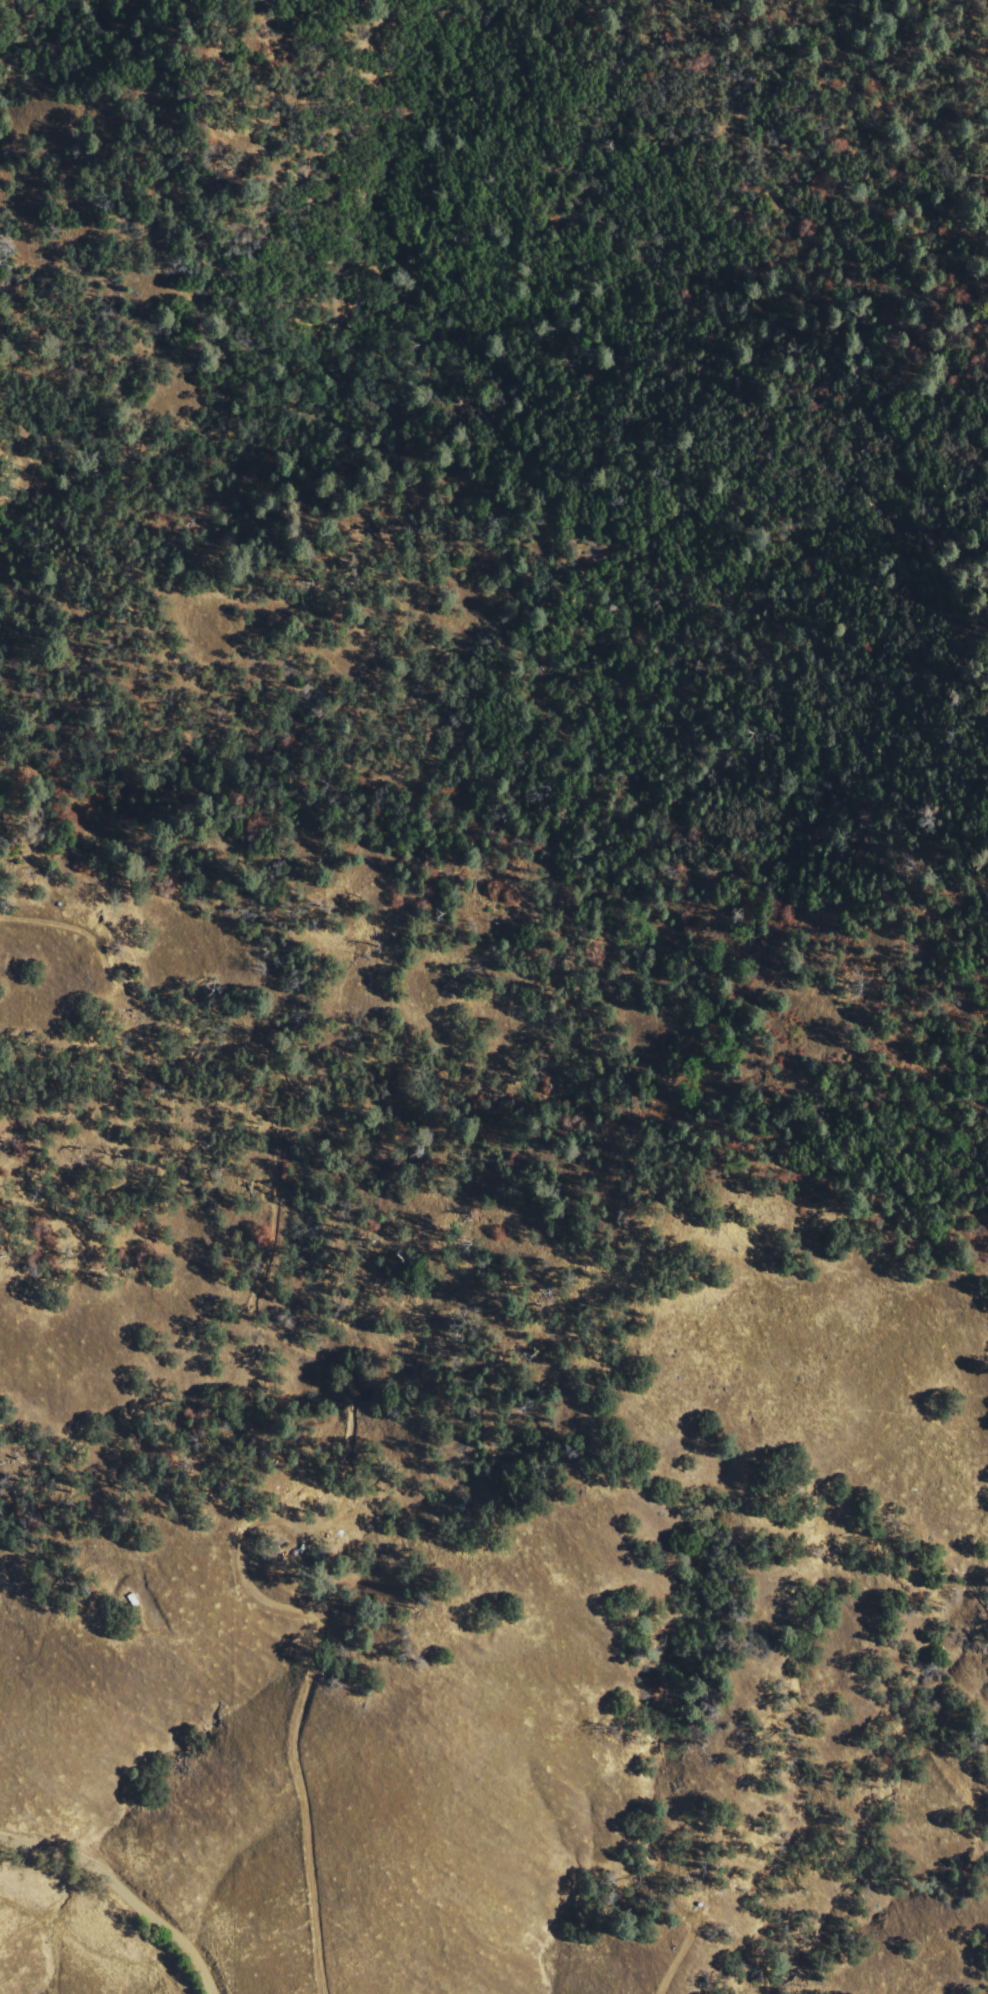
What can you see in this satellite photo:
road: (131, 1885)

